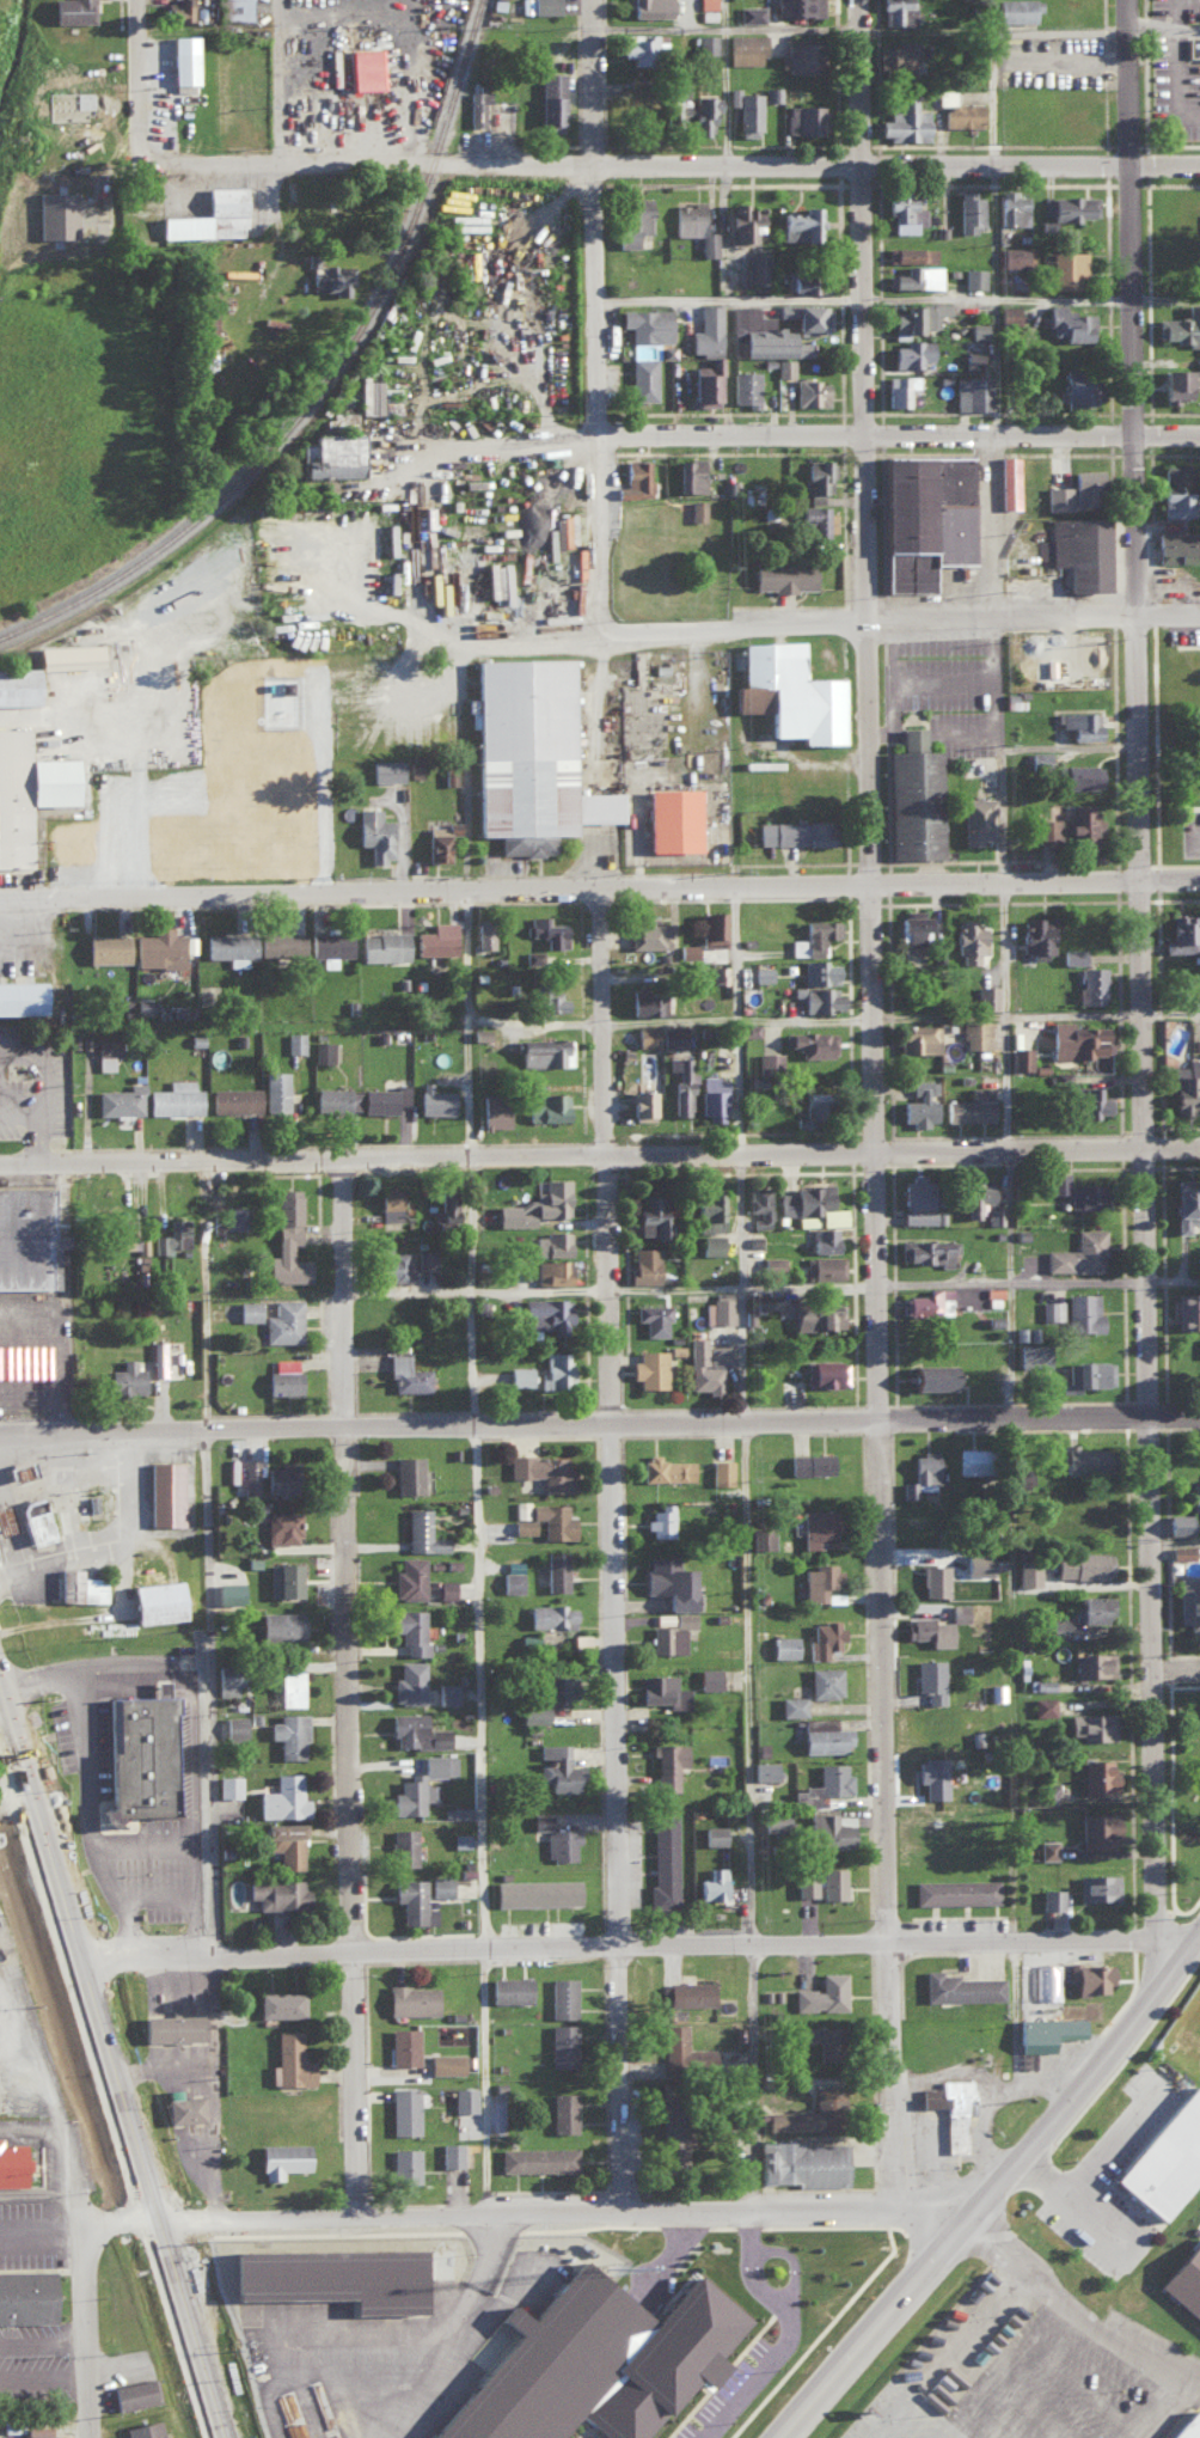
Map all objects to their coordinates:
building: (706, 4)
building: (544, 6)
building: (791, 7)
building: (235, 8)
building: (649, 8)
building: (1016, 10)
building: (72, 11)
building: (177, 11)
building: (896, 12)
building: (751, 13)
road: (1171, 17)
road: (894, 31)
building: (706, 43)
building: (639, 48)
building: (745, 48)
building: (798, 56)
building: (898, 57)
building: (182, 59)
building: (363, 68)
road: (152, 84)
road: (290, 84)
road: (723, 84)
building: (551, 100)
building: (477, 106)
building: (745, 110)
building: (703, 112)
building: (961, 114)
building: (803, 118)
building: (905, 122)
road: (675, 167)
building: (1066, 204)
building: (1011, 206)
building: (968, 209)
building: (904, 212)
building: (207, 216)
building: (631, 219)
building: (741, 221)
building: (801, 224)
building: (693, 226)
building: (911, 252)
building: (1015, 255)
building: (1066, 267)
building: (757, 269)
building: (917, 275)
building: (973, 276)
building: (331, 279)
building: (807, 280)
road: (898, 303)
building: (207, 306)
road: (595, 312)
building: (930, 312)
building: (1006, 312)
building: (807, 314)
building: (904, 317)
building: (645, 322)
building: (1069, 322)
building: (1180, 324)
building: (705, 329)
building: (976, 329)
building: (758, 331)
building: (801, 347)
building: (911, 352)
building: (784, 366)
road: (727, 369)
building: (642, 377)
building: (706, 381)
building: (1173, 381)
building: (745, 385)
building: (1078, 385)
building: (899, 387)
building: (810, 390)
building: (971, 391)
railway: (335, 392)
building: (371, 392)
road: (899, 436)
road: (504, 440)
road: (863, 441)
building: (332, 453)
building: (690, 473)
building: (818, 473)
building: (635, 478)
building: (1008, 479)
building: (1084, 483)
building: (1175, 490)
building: (1058, 496)
building: (697, 508)
building: (923, 515)
building: (815, 519)
building: (1177, 544)
building: (1078, 549)
road: (416, 558)
building: (782, 573)
building: (504, 580)
road: (844, 625)
building: (66, 654)
road: (906, 680)
building: (17, 684)
building: (785, 690)
road: (596, 695)
building: (1079, 723)
road: (966, 731)
road: (149, 738)
building: (528, 754)
building: (385, 769)
building: (1080, 775)
building: (25, 789)
building: (913, 795)
building: (671, 818)
building: (974, 818)
building: (1083, 820)
building: (1046, 829)
building: (792, 831)
building: (374, 832)
road: (1194, 833)
building: (437, 839)
road: (596, 863)
road: (1035, 886)
road: (734, 888)
road: (299, 899)
building: (912, 924)
building: (710, 927)
building: (546, 929)
building: (482, 930)
building: (1181, 933)
building: (648, 934)
building: (814, 935)
building: (1035, 935)
building: (435, 937)
building: (968, 939)
building: (278, 942)
building: (329, 942)
building: (382, 945)
building: (105, 946)
building: (229, 946)
building: (157, 947)
building: (686, 949)
building: (1071, 954)
building: (819, 971)
road: (1139, 971)
building: (1091, 983)
building: (22, 995)
building: (987, 995)
building: (816, 996)
building: (546, 998)
building: (644, 1001)
road: (1040, 1016)
road: (673, 1018)
road: (465, 1025)
building: (974, 1033)
building: (644, 1034)
building: (669, 1035)
building: (918, 1037)
building: (1077, 1039)
building: (295, 1041)
building: (810, 1041)
road: (1006, 1045)
building: (105, 1050)
building: (323, 1050)
building: (543, 1050)
building: (1020, 1057)
building: (769, 1059)
road: (49, 1081)
building: (680, 1083)
building: (1186, 1086)
building: (275, 1092)
building: (381, 1096)
building: (711, 1096)
building: (175, 1098)
building: (233, 1098)
building: (120, 1099)
building: (335, 1099)
building: (434, 1099)
building: (919, 1101)
building: (1089, 1101)
building: (641, 1104)
building: (971, 1105)
building: (546, 1106)
building: (810, 1107)
building: (492, 1108)
road: (41, 1141)
road: (599, 1153)
road: (737, 1156)
building: (1057, 1181)
building: (917, 1190)
building: (1085, 1194)
building: (976, 1196)
building: (552, 1197)
building: (804, 1198)
building: (388, 1203)
building: (758, 1204)
building: (1182, 1204)
building: (445, 1205)
building: (706, 1209)
building: (514, 1214)
building: (651, 1214)
building: (831, 1215)
building: (993, 1215)
building: (918, 1216)
building: (229, 1217)
building: (807, 1220)
building: (170, 1236)
building: (27, 1238)
building: (822, 1238)
building: (287, 1239)
building: (551, 1242)
building: (710, 1244)
building: (926, 1249)
building: (1077, 1252)
building: (424, 1257)
building: (390, 1264)
building: (771, 1264)
building: (643, 1265)
building: (824, 1266)
building: (552, 1270)
road: (771, 1285)
building: (755, 1300)
building: (925, 1301)
building: (720, 1308)
building: (247, 1309)
building: (1051, 1309)
building: (1187, 1309)
building: (1083, 1312)
building: (545, 1313)
building: (818, 1314)
building: (653, 1318)
building: (283, 1320)
building: (1025, 1332)
building: (1033, 1354)
road: (55, 1363)
building: (706, 1363)
building: (556, 1367)
building: (648, 1368)
building: (826, 1371)
building: (405, 1374)
building: (1086, 1374)
building: (519, 1375)
building: (931, 1375)
building: (283, 1376)
building: (124, 1377)
road: (599, 1425)
building: (967, 1459)
building: (1083, 1459)
building: (809, 1462)
building: (665, 1467)
building: (19, 1468)
building: (541, 1469)
building: (721, 1471)
building: (408, 1473)
building: (920, 1473)
building: (250, 1475)
road: (62, 1477)
building: (1022, 1477)
building: (278, 1478)
building: (164, 1492)
building: (1193, 1492)
building: (521, 1508)
building: (4, 1519)
building: (552, 1519)
building: (32, 1520)
building: (660, 1520)
building: (1177, 1522)
building: (522, 1524)
building: (281, 1526)
building: (816, 1526)
building: (421, 1530)
building: (760, 1536)
road: (1174, 1540)
road: (109, 1541)
road: (893, 1548)
building: (1180, 1551)
road: (608, 1553)
road: (342, 1562)
road: (206, 1563)
building: (974, 1563)
building: (1082, 1564)
building: (555, 1570)
building: (1028, 1572)
building: (409, 1577)
building: (282, 1578)
building: (932, 1579)
building: (512, 1581)
building: (667, 1581)
building: (821, 1583)
building: (78, 1585)
building: (445, 1588)
building: (227, 1591)
building: (154, 1601)
building: (1188, 1601)
building: (1094, 1608)
building: (957, 1611)
road: (97, 1613)
building: (550, 1614)
building: (684, 1618)
building: (280, 1625)
building: (1057, 1626)
building: (410, 1629)
building: (929, 1630)
building: (822, 1637)
building: (667, 1638)
building: (784, 1645)
building: (1094, 1663)
road: (1175, 1668)
road: (102, 1673)
building: (708, 1678)
building: (929, 1679)
building: (409, 1681)
building: (824, 1681)
building: (1042, 1684)
building: (289, 1686)
road: (479, 1686)
building: (662, 1690)
building: (996, 1691)
building: (446, 1692)
building: (543, 1699)
building: (791, 1705)
building: (1042, 1706)
building: (1091, 1724)
building: (233, 1725)
building: (415, 1730)
building: (289, 1733)
building: (824, 1737)
building: (139, 1755)
building: (433, 1764)
building: (666, 1766)
building: (557, 1767)
building: (763, 1770)
building: (1096, 1774)
building: (931, 1776)
road: (13, 1782)
building: (228, 1785)
building: (822, 1785)
building: (1047, 1792)
building: (410, 1794)
park: (1192, 1796)
building: (282, 1797)
road: (18, 1814)
building: (773, 1819)
building: (539, 1820)
road: (747, 1820)
road: (87, 1821)
building: (831, 1829)
building: (1095, 1829)
building: (712, 1834)
building: (459, 1839)
building: (283, 1843)
road: (154, 1844)
building: (559, 1844)
building: (403, 1846)
building: (1046, 1849)
building: (662, 1862)
building: (831, 1882)
building: (712, 1883)
building: (803, 1884)
building: (440, 1886)
building: (1096, 1887)
building: (955, 1890)
building: (537, 1892)
road: (164, 1893)
building: (277, 1893)
building: (1051, 1899)
building: (412, 1901)
road: (1194, 1935)
road: (641, 1948)
building: (1089, 1976)
building: (1046, 1980)
building: (960, 1986)
building: (509, 1988)
building: (686, 1993)
building: (822, 1993)
building: (562, 1997)
building: (411, 1999)
building: (280, 2003)
road: (1135, 2010)
road: (97, 2015)
building: (171, 2027)
building: (1045, 2031)
building: (820, 2039)
building: (403, 2045)
building: (562, 2045)
building: (682, 2047)
building: (290, 2059)
building: (445, 2063)
road: (354, 2090)
road: (214, 2091)
road: (994, 2091)
building: (463, 2098)
building: (183, 2108)
building: (950, 2108)
building: (403, 2110)
building: (563, 2112)
building: (806, 2113)
road: (1051, 2115)
road: (1115, 2140)
building: (671, 2144)
building: (451, 2153)
building: (281, 2158)
building: (537, 2158)
building: (1165, 2158)
building: (13, 2162)
building: (802, 2162)
building: (404, 2164)
road: (81, 2182)
road: (990, 2188)
road: (1078, 2202)
road: (765, 2214)
road: (92, 2216)
road: (935, 2218)
road: (392, 2222)
road: (128, 2226)
road: (592, 2226)
road: (763, 2232)
road: (36, 2247)
road: (84, 2247)
road: (687, 2254)
road: (807, 2271)
building: (331, 2273)
building: (1184, 2277)
road: (773, 2292)
building: (25, 2293)
road: (1078, 2306)
road: (865, 2330)
road: (98, 2333)
road: (457, 2333)
road: (802, 2340)
road: (369, 2342)
road: (48, 2352)
road: (955, 2352)
building: (608, 2360)
parking lot: (1021, 2371)
road: (736, 2373)
road: (1066, 2375)
road: (49, 2385)
road: (209, 2388)
parking lot: (741, 2390)
building: (134, 2391)
road: (757, 2394)
road: (1009, 2394)
road: (1174, 2412)
road: (949, 2414)
building: (11, 2425)
road: (601, 2427)
road: (943, 2427)
building: (1188, 2427)
building: (33, 2428)
building: (142, 2428)

